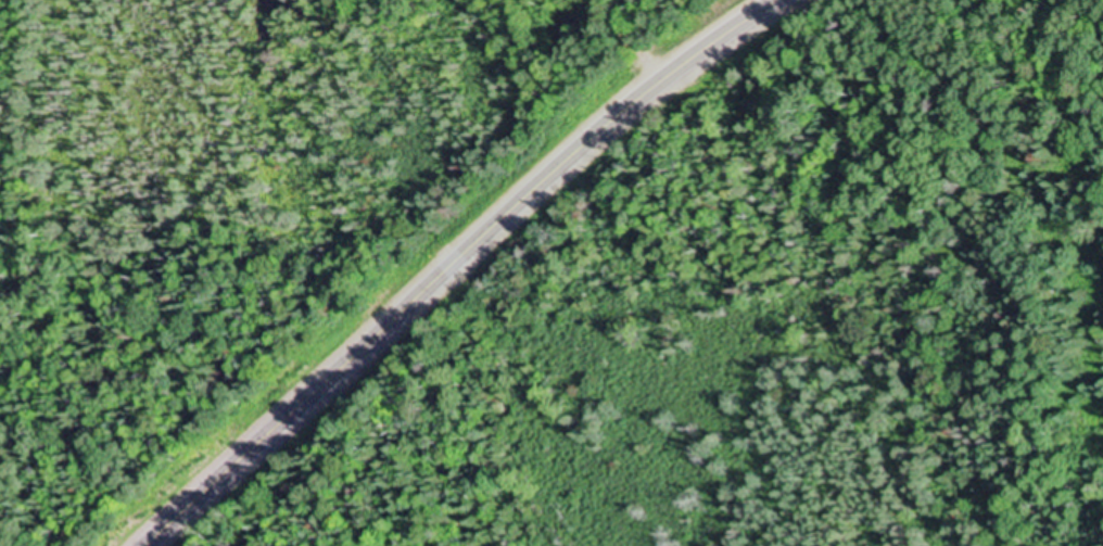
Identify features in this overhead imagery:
road: (454, 264)

